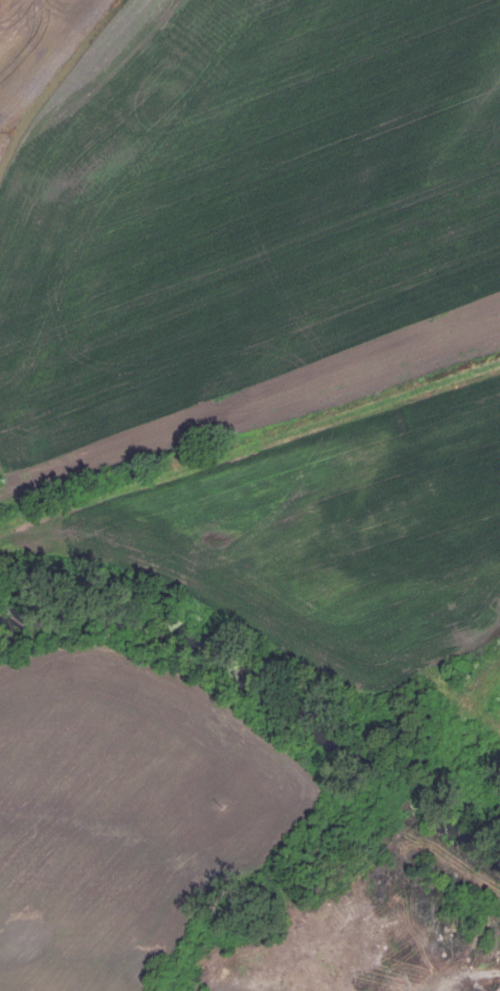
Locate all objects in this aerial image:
crop: (236, 209)
crop: (363, 551)
crop: (125, 816)
road: (482, 970)
crop: (245, 988)

